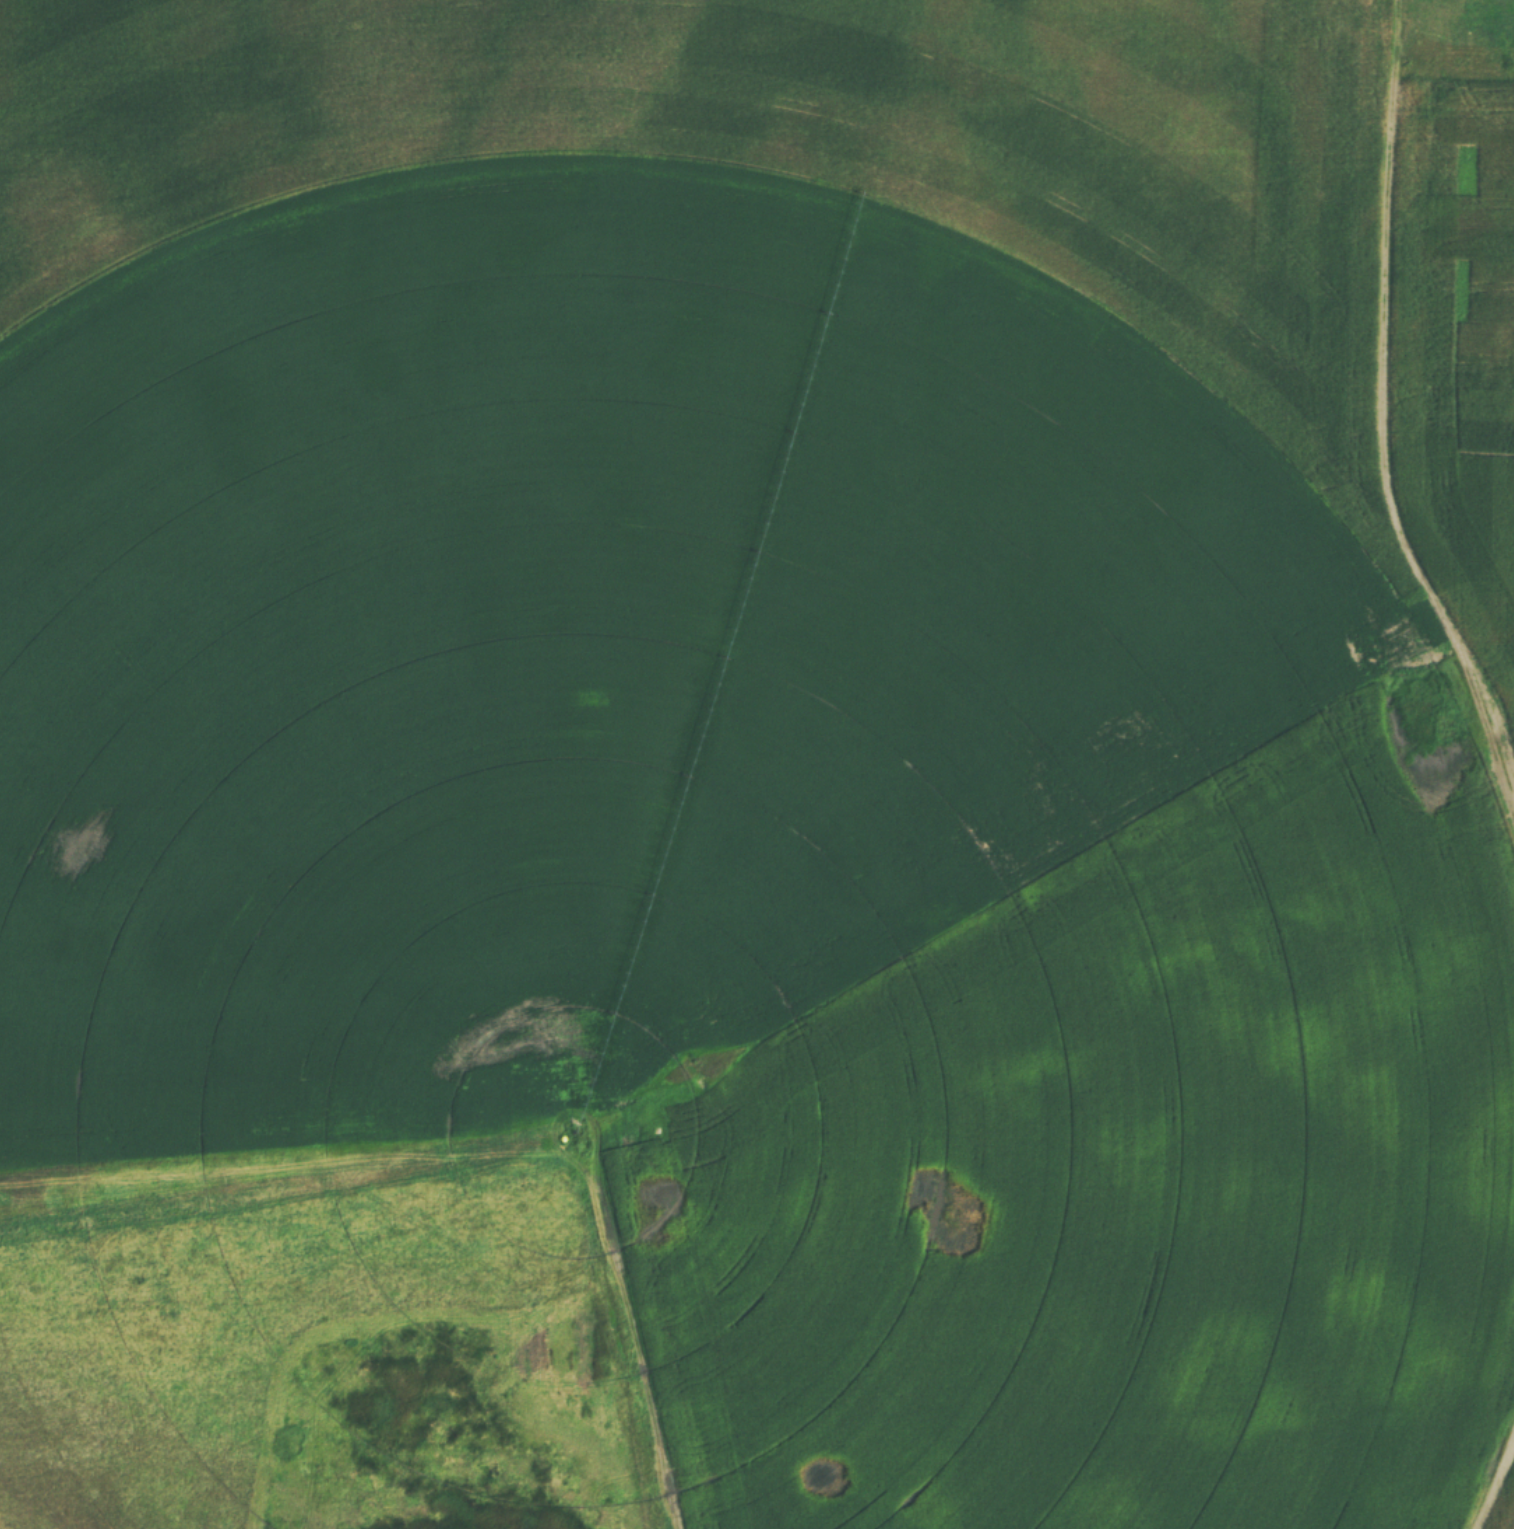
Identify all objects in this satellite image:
building: (1137, 709)

